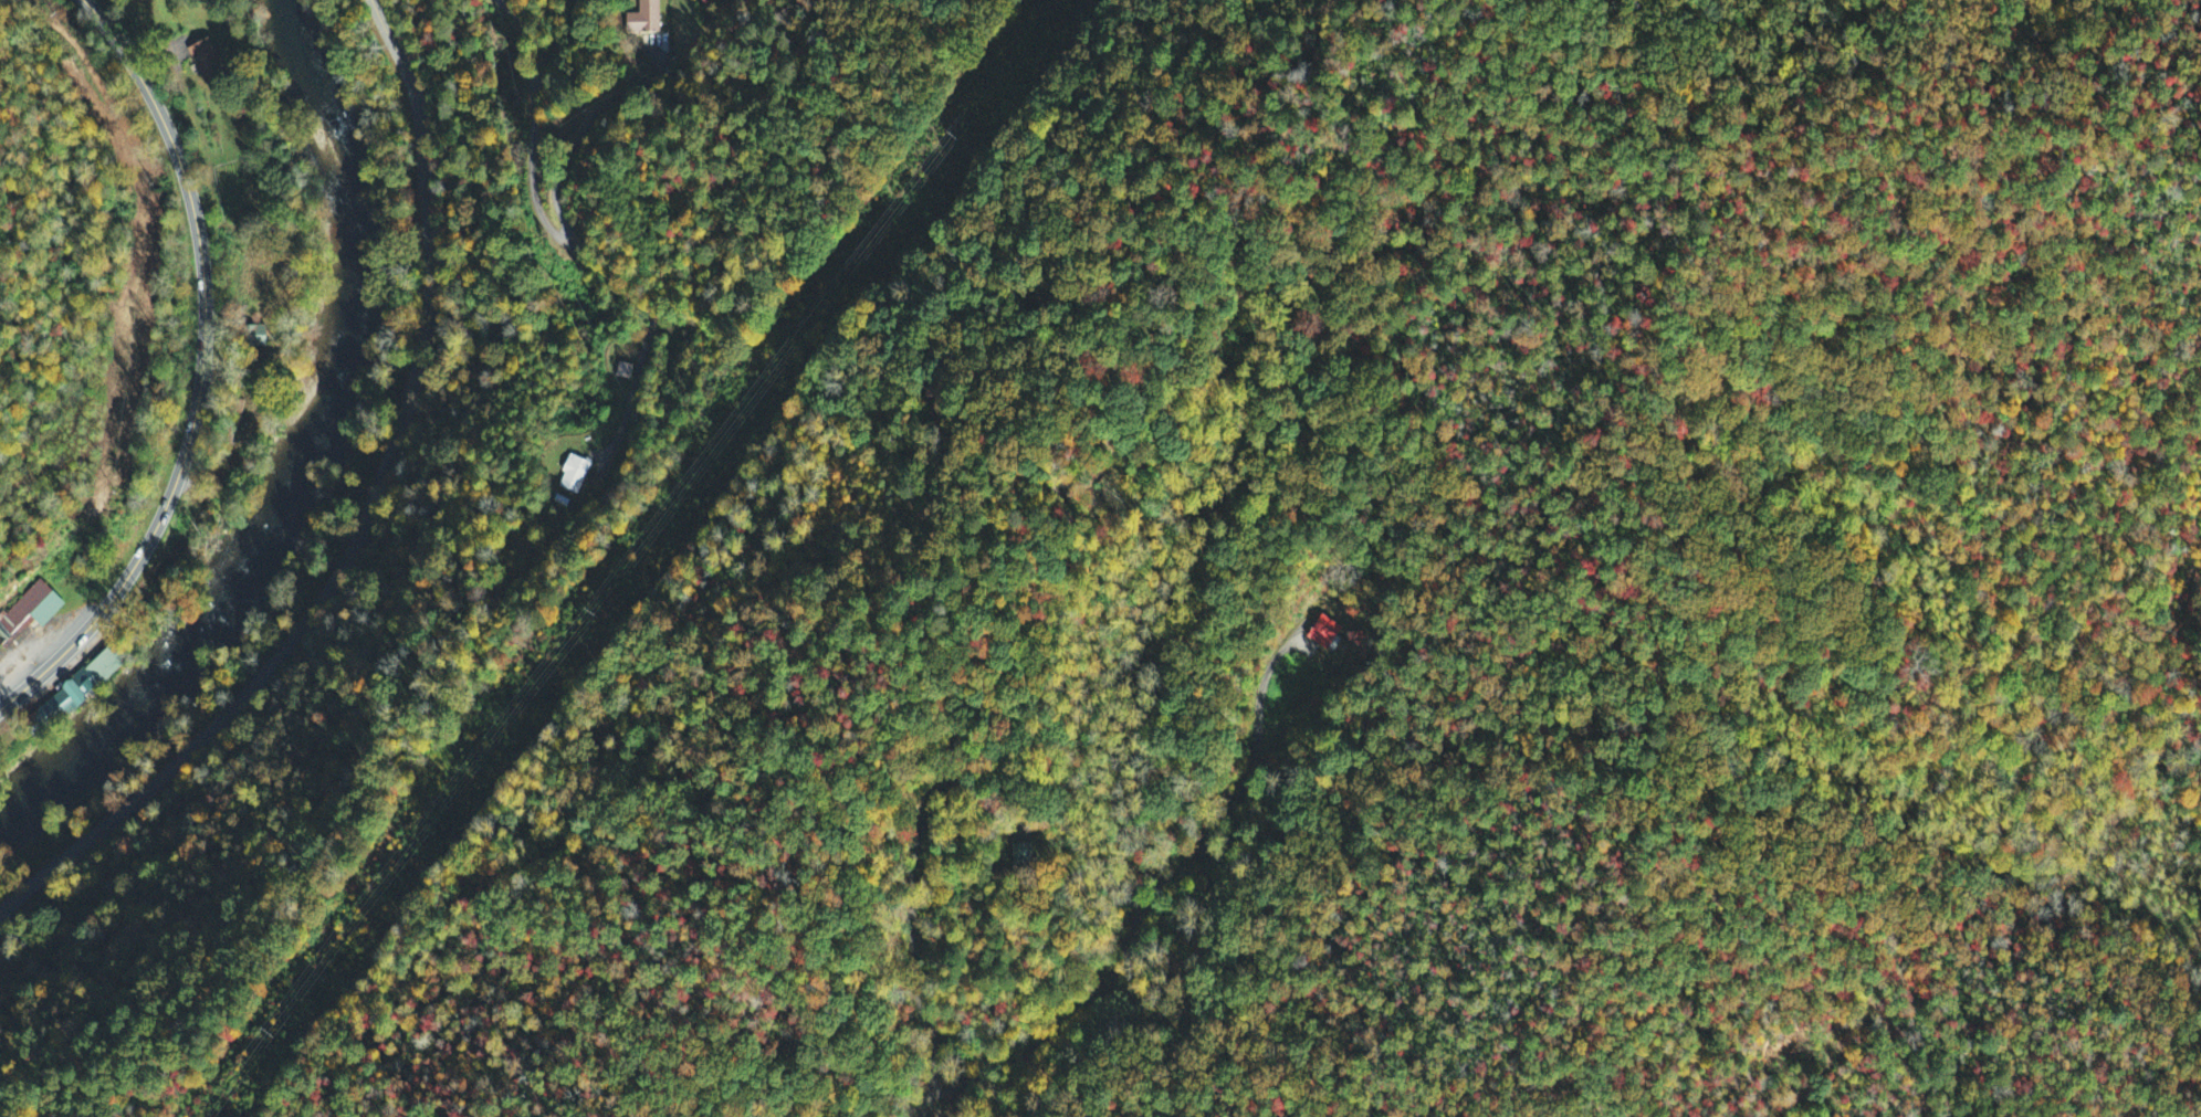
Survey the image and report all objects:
road: (91, 12)
building: (644, 19)
building: (208, 61)
power tower: (951, 141)
building: (261, 338)
road: (203, 356)
river: (306, 454)
building: (574, 476)
road: (364, 518)
building: (32, 610)
power tower: (589, 614)
building: (1327, 631)
building: (84, 687)
road: (24, 688)
building: (1026, 855)
road: (1144, 906)
road: (914, 908)
power tower: (266, 1034)

